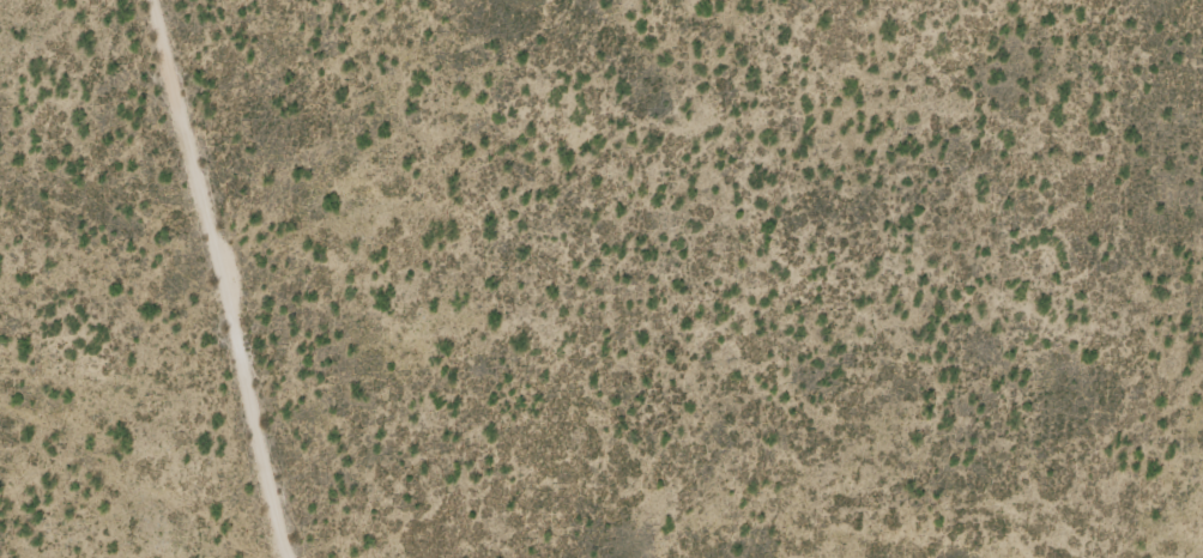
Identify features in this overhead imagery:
road: (216, 279)

